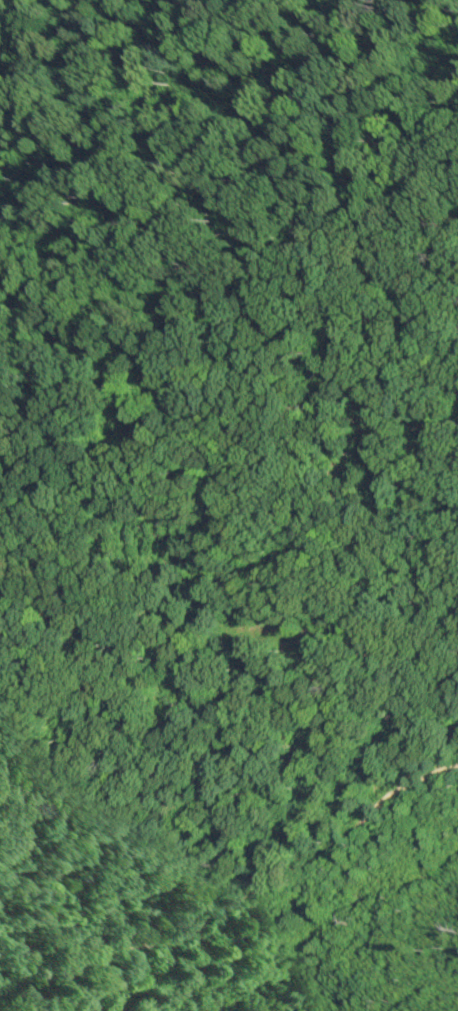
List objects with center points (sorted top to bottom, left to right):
road: (247, 881)
road: (42, 954)

